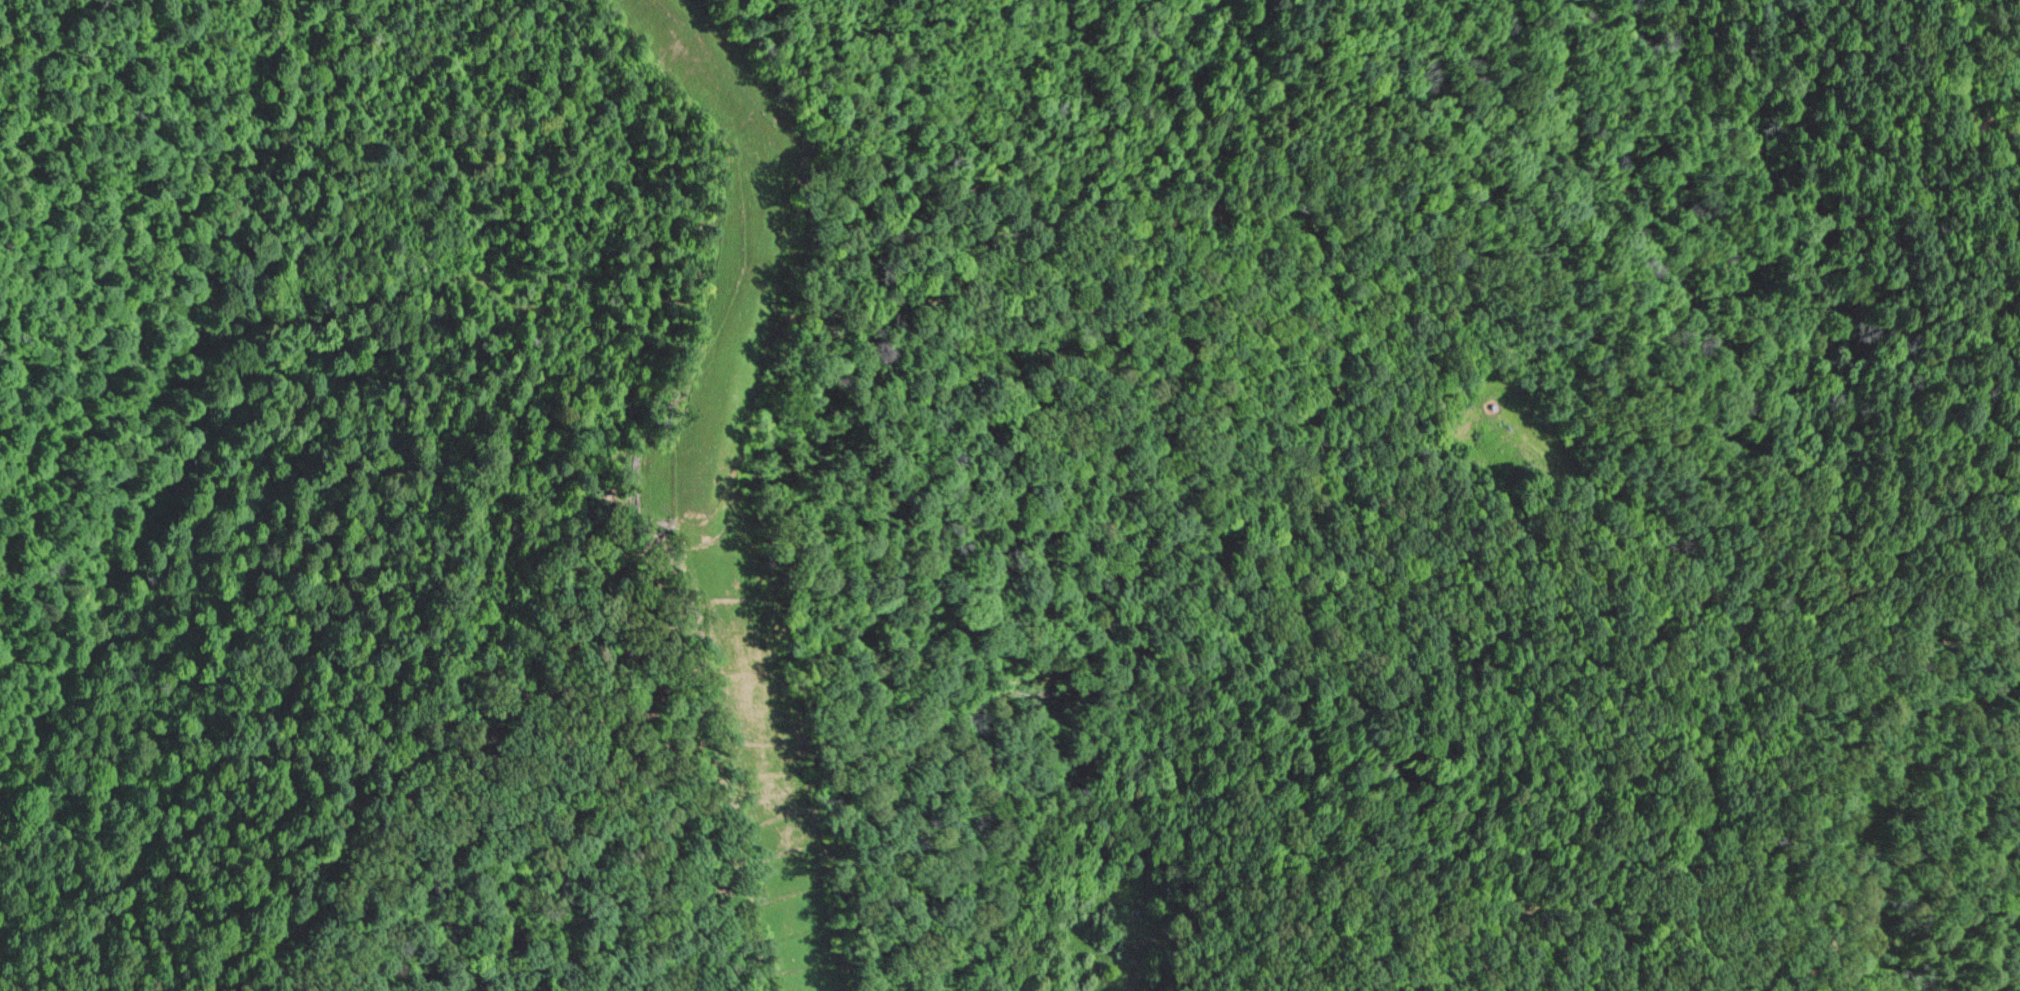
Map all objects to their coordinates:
road: (1997, 4)

